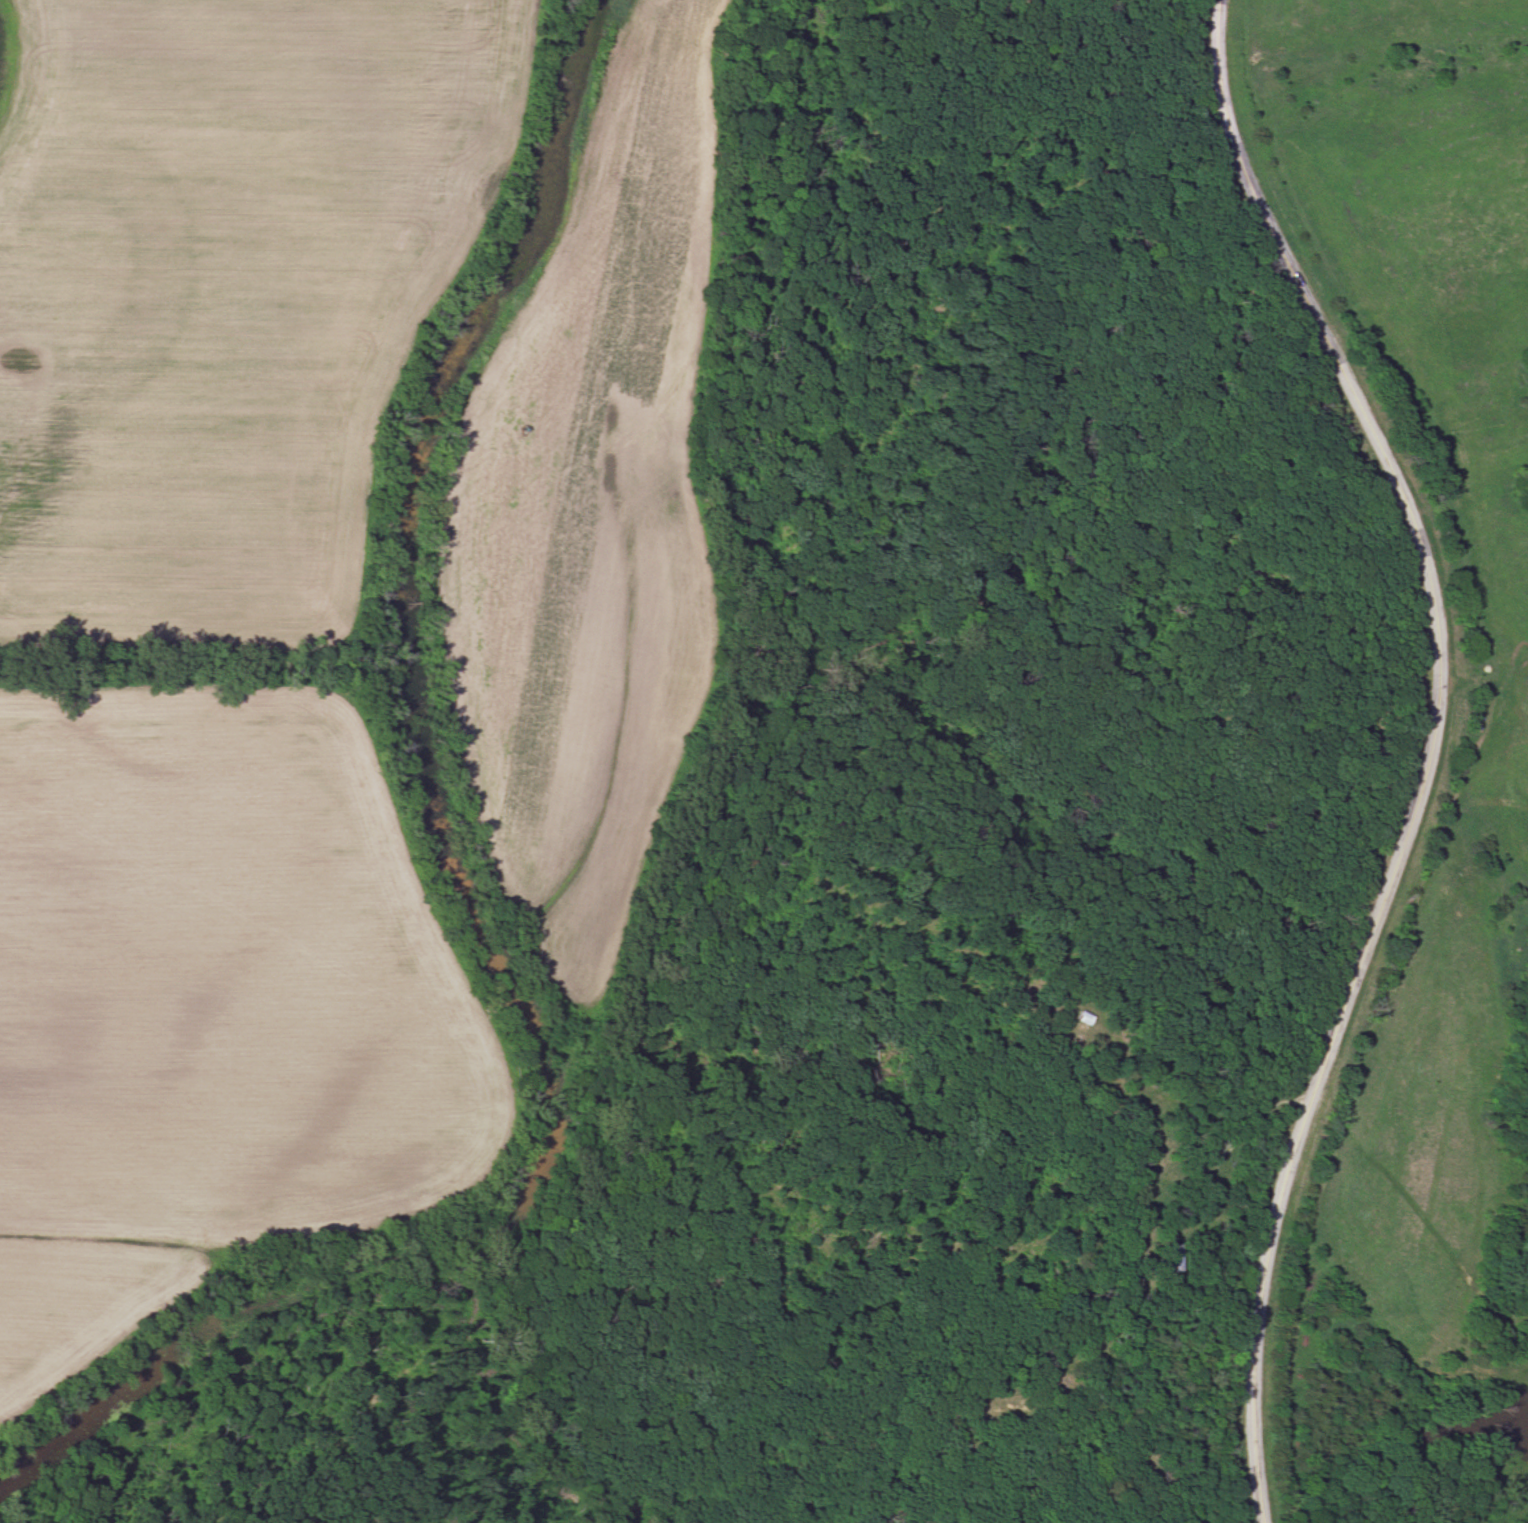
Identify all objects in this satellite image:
road: (1435, 751)
building: (1081, 1019)
building: (1175, 1258)

